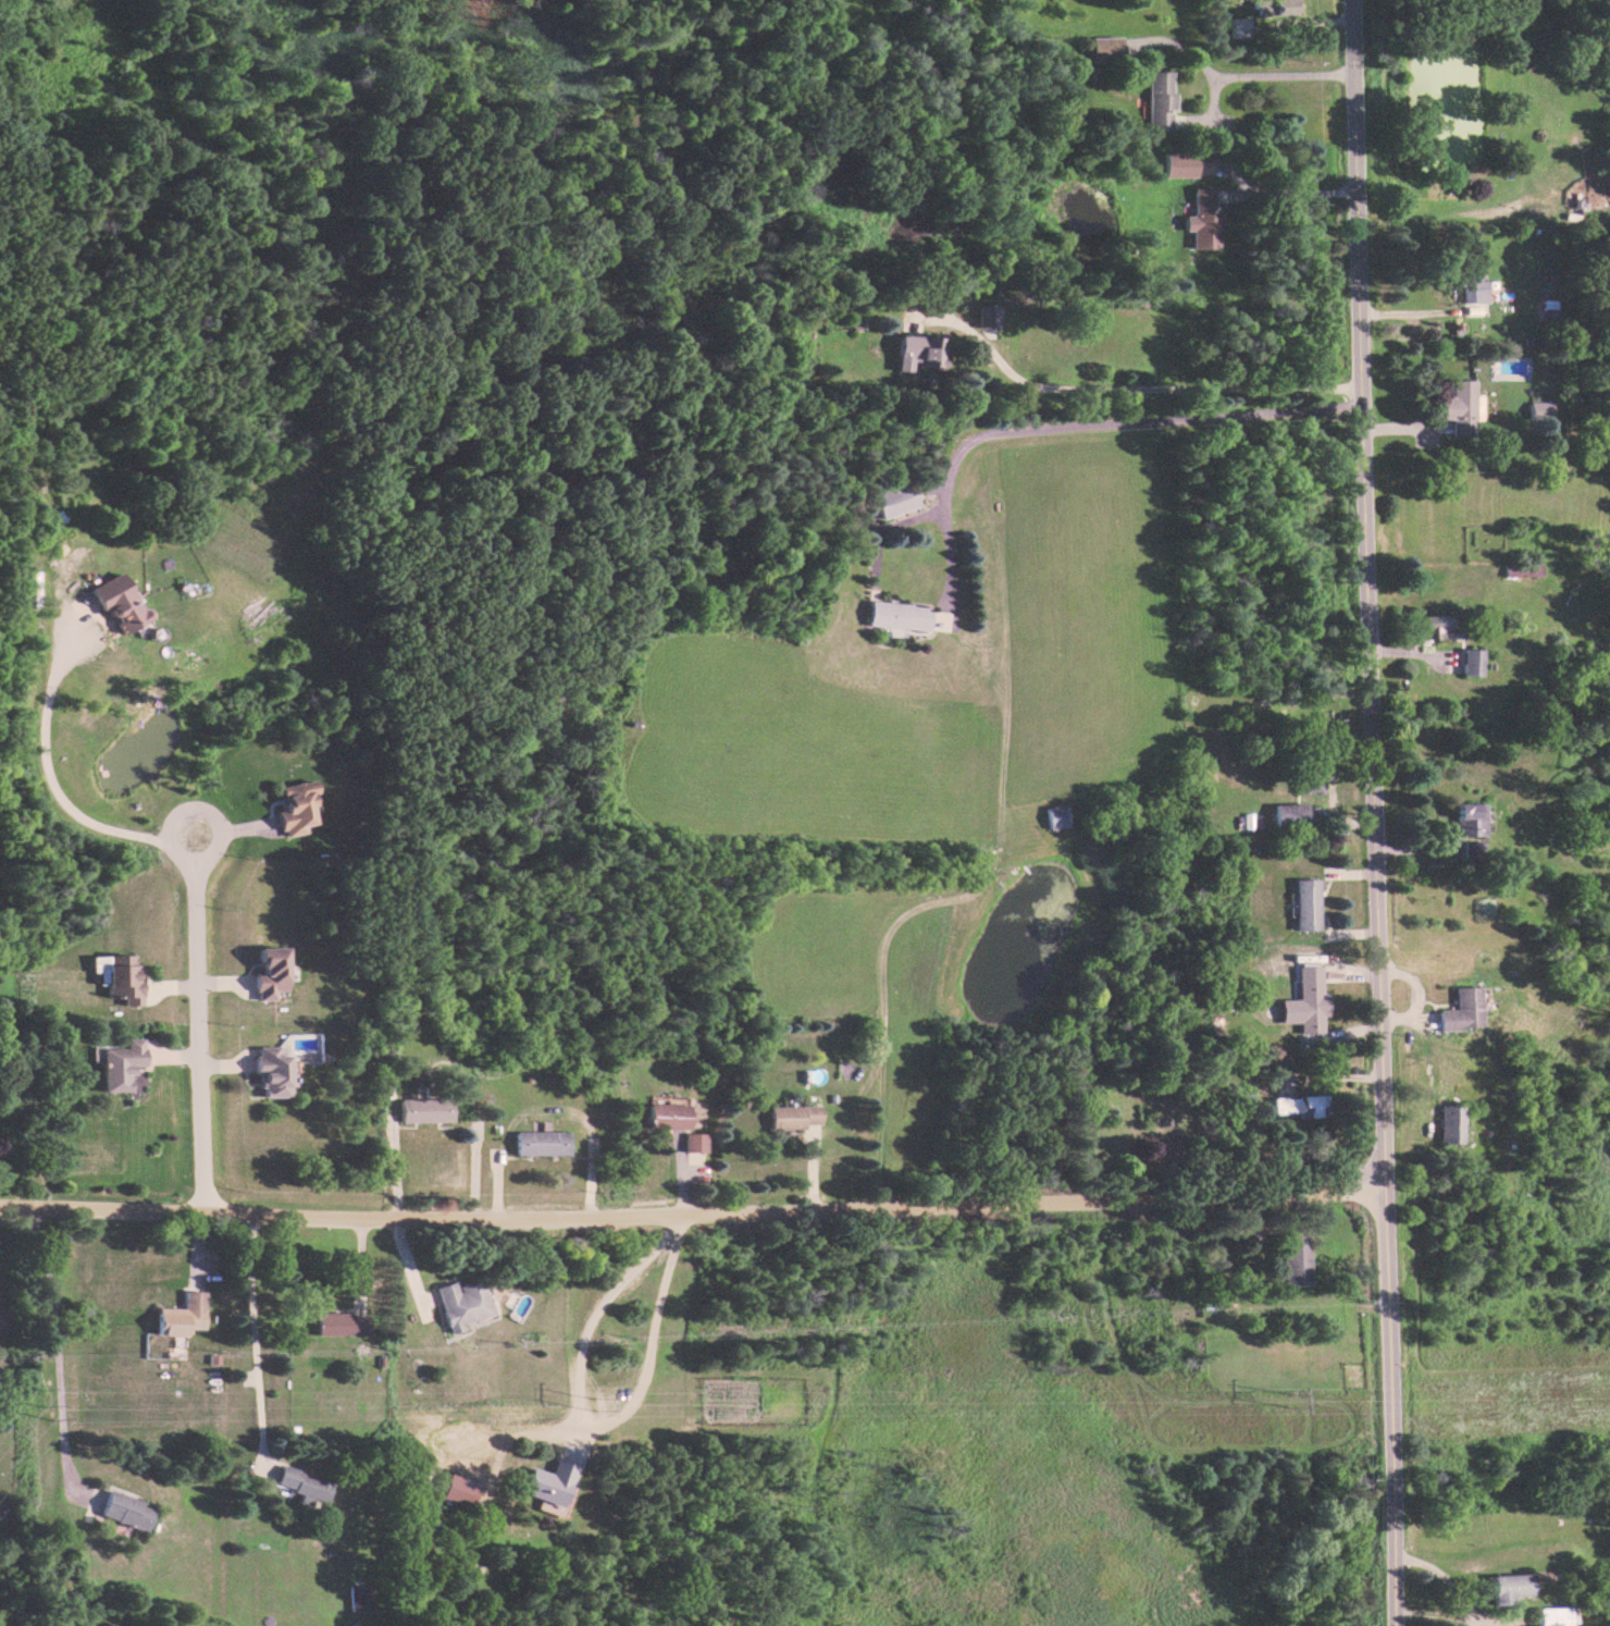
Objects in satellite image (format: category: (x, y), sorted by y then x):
building: (1270, 7)
building: (1236, 27)
building: (1102, 48)
road: (1250, 75)
building: (1155, 101)
building: (1175, 164)
road: (1288, 193)
building: (1200, 220)
building: (1470, 294)
building: (918, 350)
road: (1127, 386)
building: (1457, 407)
building: (1537, 408)
road: (1069, 424)
building: (893, 500)
building: (1519, 569)
building: (116, 603)
building: (895, 615)
building: (1433, 627)
building: (1467, 662)
building: (1306, 780)
road: (47, 781)
building: (293, 806)
road: (1365, 813)
building: (1286, 814)
building: (1467, 816)
building: (1469, 851)
building: (1302, 903)
building: (267, 972)
building: (120, 977)
building: (1302, 1002)
building: (1458, 1010)
road: (197, 1023)
building: (270, 1070)
building: (1281, 1104)
building: (1306, 1105)
building: (694, 1109)
building: (421, 1110)
building: (664, 1116)
building: (790, 1117)
building: (1448, 1123)
building: (691, 1142)
building: (536, 1143)
road: (688, 1211)
building: (1289, 1260)
building: (457, 1305)
road: (595, 1311)
building: (178, 1315)
building: (329, 1322)
road: (248, 1333)
road: (53, 1351)
road: (643, 1362)
power tower: (1281, 1396)
power tower: (607, 1402)
power tower: (47, 1408)
building: (299, 1485)
building: (543, 1488)
building: (456, 1490)
building: (122, 1510)
road: (1434, 1568)
building: (1506, 1587)
building: (358, 1597)
road: (1456, 1615)
building: (1548, 1616)

